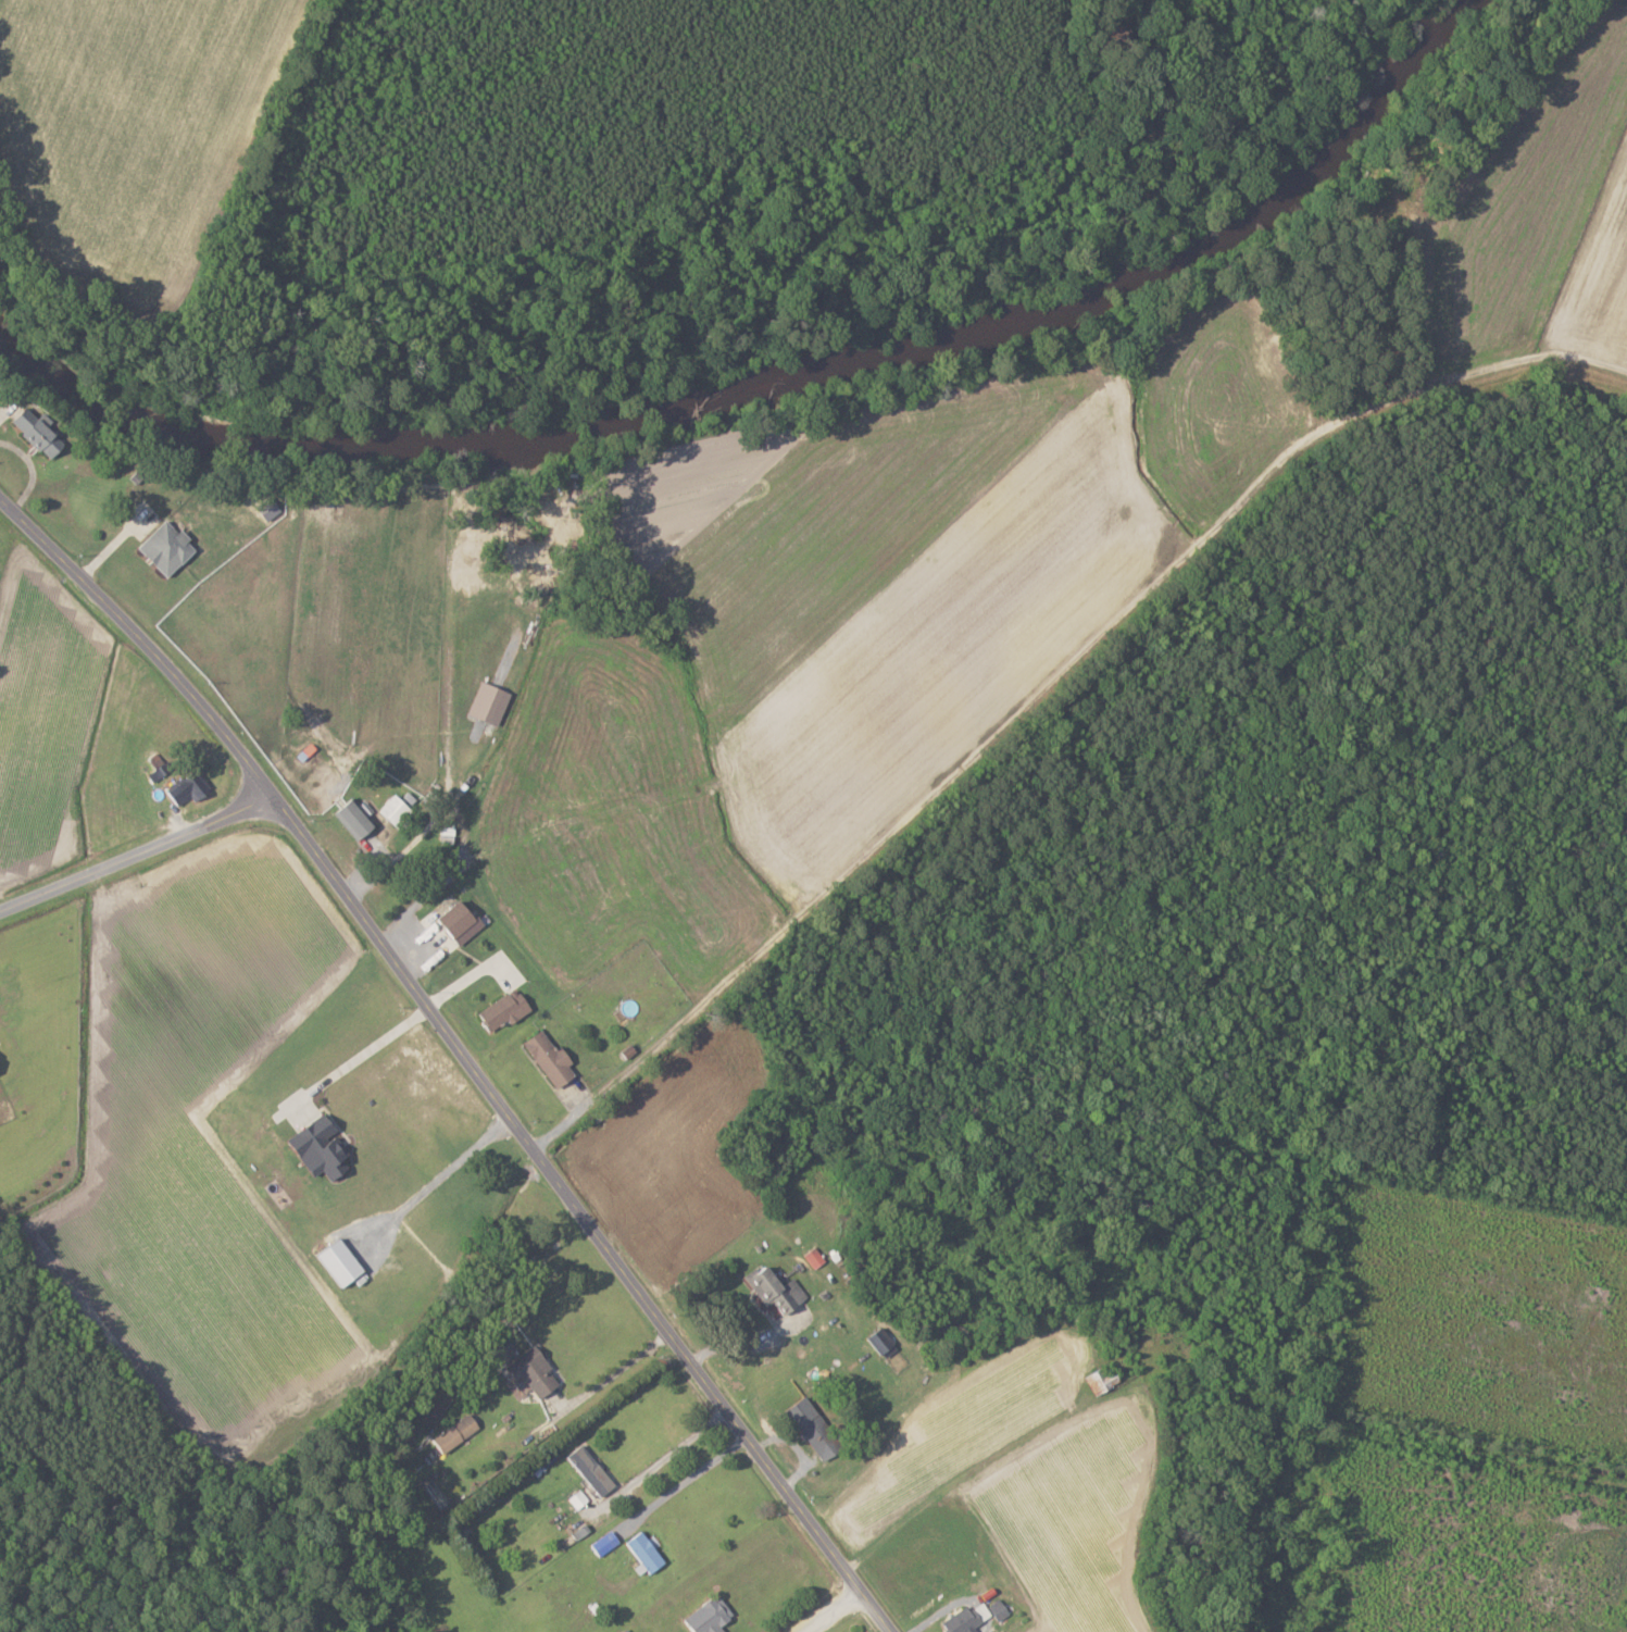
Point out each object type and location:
river: (1311, 159)
river: (62, 369)
river: (631, 420)
building: (40, 431)
building: (170, 546)
building: (493, 701)
building: (188, 789)
building: (399, 811)
building: (356, 818)
road: (137, 854)
building: (462, 921)
building: (506, 1008)
road: (353, 1055)
road: (459, 1056)
building: (553, 1058)
building: (0, 1074)
building: (324, 1146)
road: (430, 1179)
building: (816, 1257)
building: (343, 1261)
building: (777, 1287)
building: (884, 1340)
road: (749, 1342)
building: (537, 1370)
road: (606, 1370)
building: (1105, 1380)
building: (817, 1427)
building: (458, 1431)
building: (593, 1468)
building: (606, 1542)
building: (1001, 1608)
road: (830, 1612)
building: (968, 1618)
building: (628, 1630)

